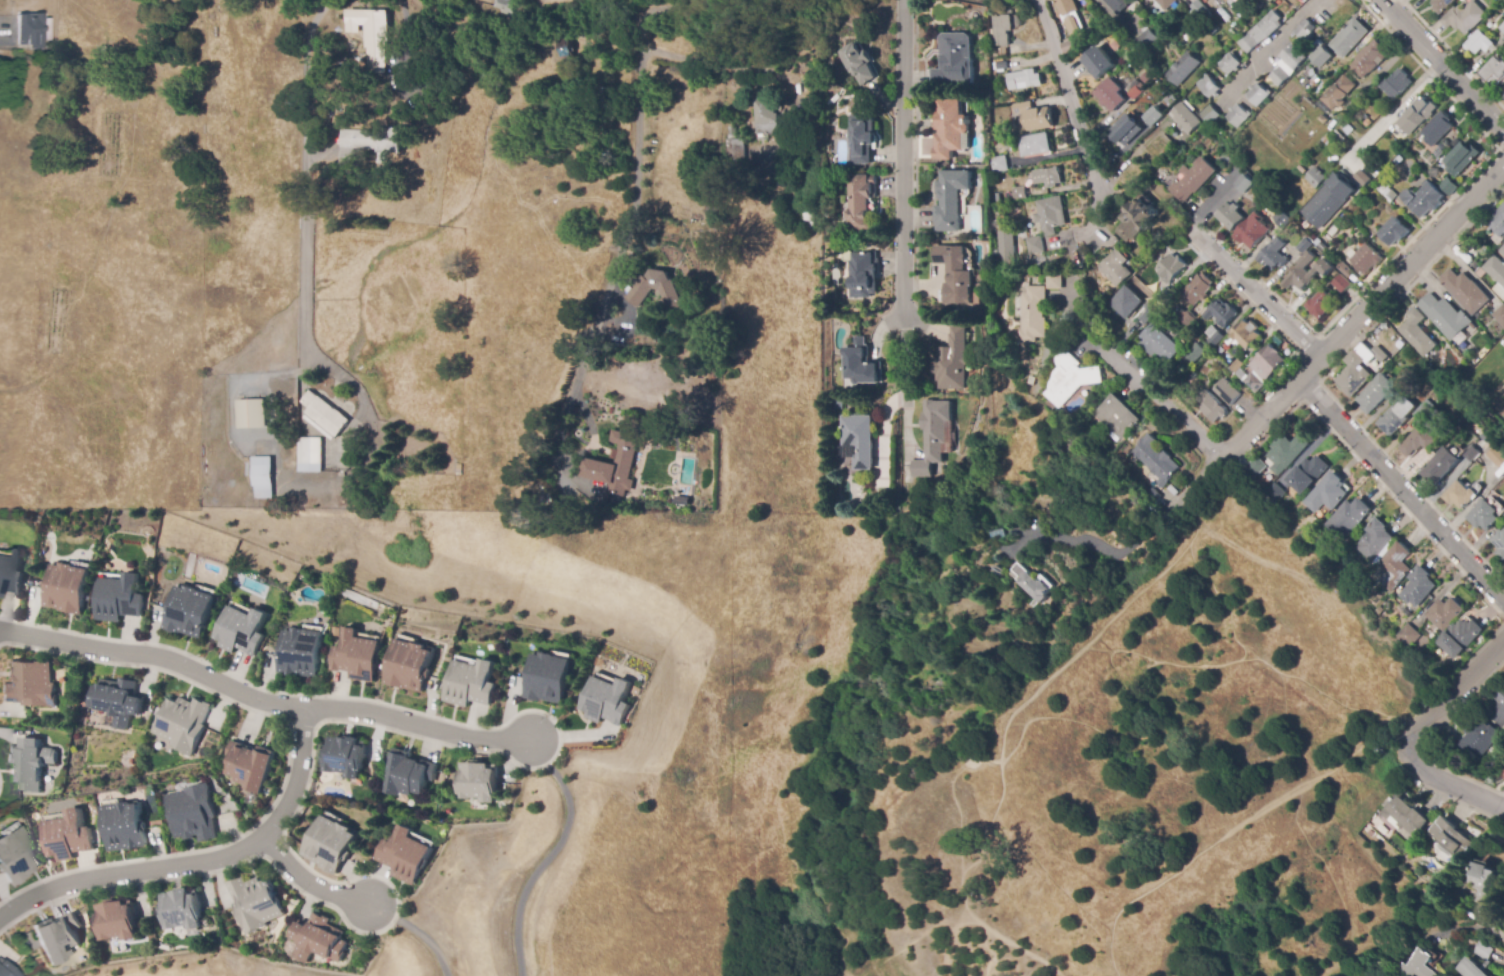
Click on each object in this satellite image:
building: (1224, 0)
building: (1270, 0)
building: (1229, 1)
building: (1166, 3)
building: (1114, 4)
building: (1441, 5)
building: (1234, 6)
building: (505, 7)
building: (1066, 8)
building: (1200, 11)
building: (1223, 15)
building: (1464, 18)
building: (1502, 27)
building: (1001, 30)
building: (33, 31)
building: (1304, 31)
building: (1261, 32)
building: (372, 36)
building: (1349, 38)
building: (1145, 40)
building: (1479, 42)
building: (1069, 46)
road: (1269, 46)
building: (565, 49)
building: (103, 51)
building: (1322, 56)
building: (1293, 57)
building: (1369, 57)
building: (953, 58)
building: (1098, 60)
building: (859, 63)
building: (1230, 63)
road: (731, 66)
building: (1001, 66)
road: (1443, 66)
building: (1183, 69)
building: (1493, 72)
building: (1310, 73)
building: (1280, 76)
building: (1146, 78)
building: (1301, 78)
building: (1021, 79)
building: (1316, 80)
building: (1131, 84)
building: (1396, 85)
building: (1209, 86)
building: (1141, 87)
building: (1339, 92)
building: (1134, 93)
building: (1259, 94)
building: (1502, 94)
road: (1067, 95)
building: (1109, 95)
road: (1396, 112)
building: (1210, 114)
building: (1033, 116)
building: (1154, 116)
building: (1238, 116)
building: (1417, 116)
building: (765, 117)
building: (1366, 117)
building: (1166, 118)
building: (1186, 118)
building: (1324, 119)
building: (1367, 123)
building: (949, 129)
building: (1125, 129)
building: (1348, 129)
building: (1438, 129)
building: (731, 131)
building: (1232, 135)
building: (1338, 137)
building: (862, 138)
building: (1328, 139)
building: (370, 142)
building: (1455, 142)
building: (1035, 145)
building: (1442, 148)
building: (735, 151)
building: (1154, 159)
building: (1462, 159)
building: (1398, 160)
building: (998, 164)
building: (1302, 169)
road: (310, 174)
road: (637, 174)
building: (1048, 177)
building: (1197, 177)
building: (1363, 177)
building: (1315, 178)
building: (780, 181)
road: (903, 183)
building: (1244, 183)
building: (1449, 187)
building: (1387, 192)
building: (1019, 194)
building: (997, 197)
building: (950, 199)
building: (1424, 199)
building: (1328, 200)
building: (859, 202)
building: (1050, 215)
building: (1230, 216)
building: (1138, 218)
building: (1282, 220)
building: (806, 221)
building: (1497, 222)
building: (1252, 231)
building: (1394, 232)
building: (1030, 233)
building: (1305, 245)
building: (1034, 246)
building: (1322, 247)
building: (838, 250)
building: (1502, 250)
building: (1004, 251)
building: (1273, 255)
building: (1366, 259)
building: (1475, 265)
building: (1115, 268)
building: (1171, 269)
building: (1495, 269)
building: (1345, 270)
building: (1307, 272)
building: (1481, 273)
building: (954, 275)
building: (862, 276)
building: (1054, 281)
building: (1341, 284)
building: (656, 285)
road: (1250, 288)
building: (1197, 289)
building: (1465, 291)
building: (1164, 295)
building: (1126, 302)
building: (1321, 304)
building: (1146, 312)
building: (1220, 313)
building: (1032, 314)
building: (1499, 315)
building: (1445, 316)
building: (1186, 317)
building: (1473, 326)
building: (1418, 333)
building: (1245, 334)
building: (1212, 336)
building: (1159, 346)
building: (1192, 353)
building: (1215, 360)
building: (1270, 360)
building: (953, 362)
building: (861, 364)
building: (1235, 365)
building: (1358, 369)
building: (1191, 375)
building: (1241, 375)
building: (1067, 378)
building: (1253, 382)
building: (1399, 391)
building: (1226, 392)
building: (1375, 394)
road: (1279, 397)
road: (1155, 398)
building: (839, 405)
building: (1211, 407)
building: (1421, 412)
building: (252, 414)
building: (324, 416)
building: (1117, 416)
building: (1396, 416)
building: (935, 437)
building: (1487, 438)
building: (858, 439)
building: (1420, 440)
building: (1287, 452)
road: (576, 453)
building: (1471, 454)
building: (309, 455)
building: (1495, 455)
building: (1156, 459)
building: (617, 461)
building: (1439, 465)
building: (1252, 470)
building: (905, 473)
building: (1307, 474)
building: (263, 478)
road: (1401, 489)
building: (1275, 493)
building: (1327, 494)
building: (1459, 495)
building: (1153, 496)
building: (1348, 515)
building: (1484, 516)
building: (998, 535)
building: (1373, 540)
building: (1499, 544)
building: (1394, 566)
building: (10, 573)
building: (998, 573)
building: (66, 586)
building: (1035, 587)
building: (1417, 587)
building: (119, 596)
building: (1387, 606)
building: (188, 609)
building: (1379, 610)
building: (1405, 611)
building: (1444, 614)
building: (240, 628)
building: (1408, 635)
building: (1460, 637)
building: (299, 650)
building: (357, 656)
building: (1429, 659)
building: (408, 665)
building: (469, 679)
building: (546, 679)
building: (28, 689)
building: (636, 689)
road: (1447, 699)
building: (119, 700)
building: (605, 700)
road: (265, 701)
building: (1497, 710)
building: (181, 723)
building: (1477, 739)
road: (996, 754)
building: (344, 756)
building: (248, 764)
building: (27, 766)
building: (406, 774)
building: (477, 782)
road: (1457, 785)
building: (191, 813)
road: (1260, 813)
building: (1405, 816)
building: (123, 827)
building: (66, 838)
building: (1451, 838)
building: (330, 843)
building: (16, 855)
building: (402, 855)
road: (547, 856)
road: (198, 864)
road: (311, 883)
building: (1486, 883)
building: (256, 903)
building: (181, 908)
building: (116, 921)
road: (419, 932)
building: (57, 937)
building: (318, 939)
building: (1483, 950)
building: (1420, 965)
building: (1470, 969)
building: (7, 970)

